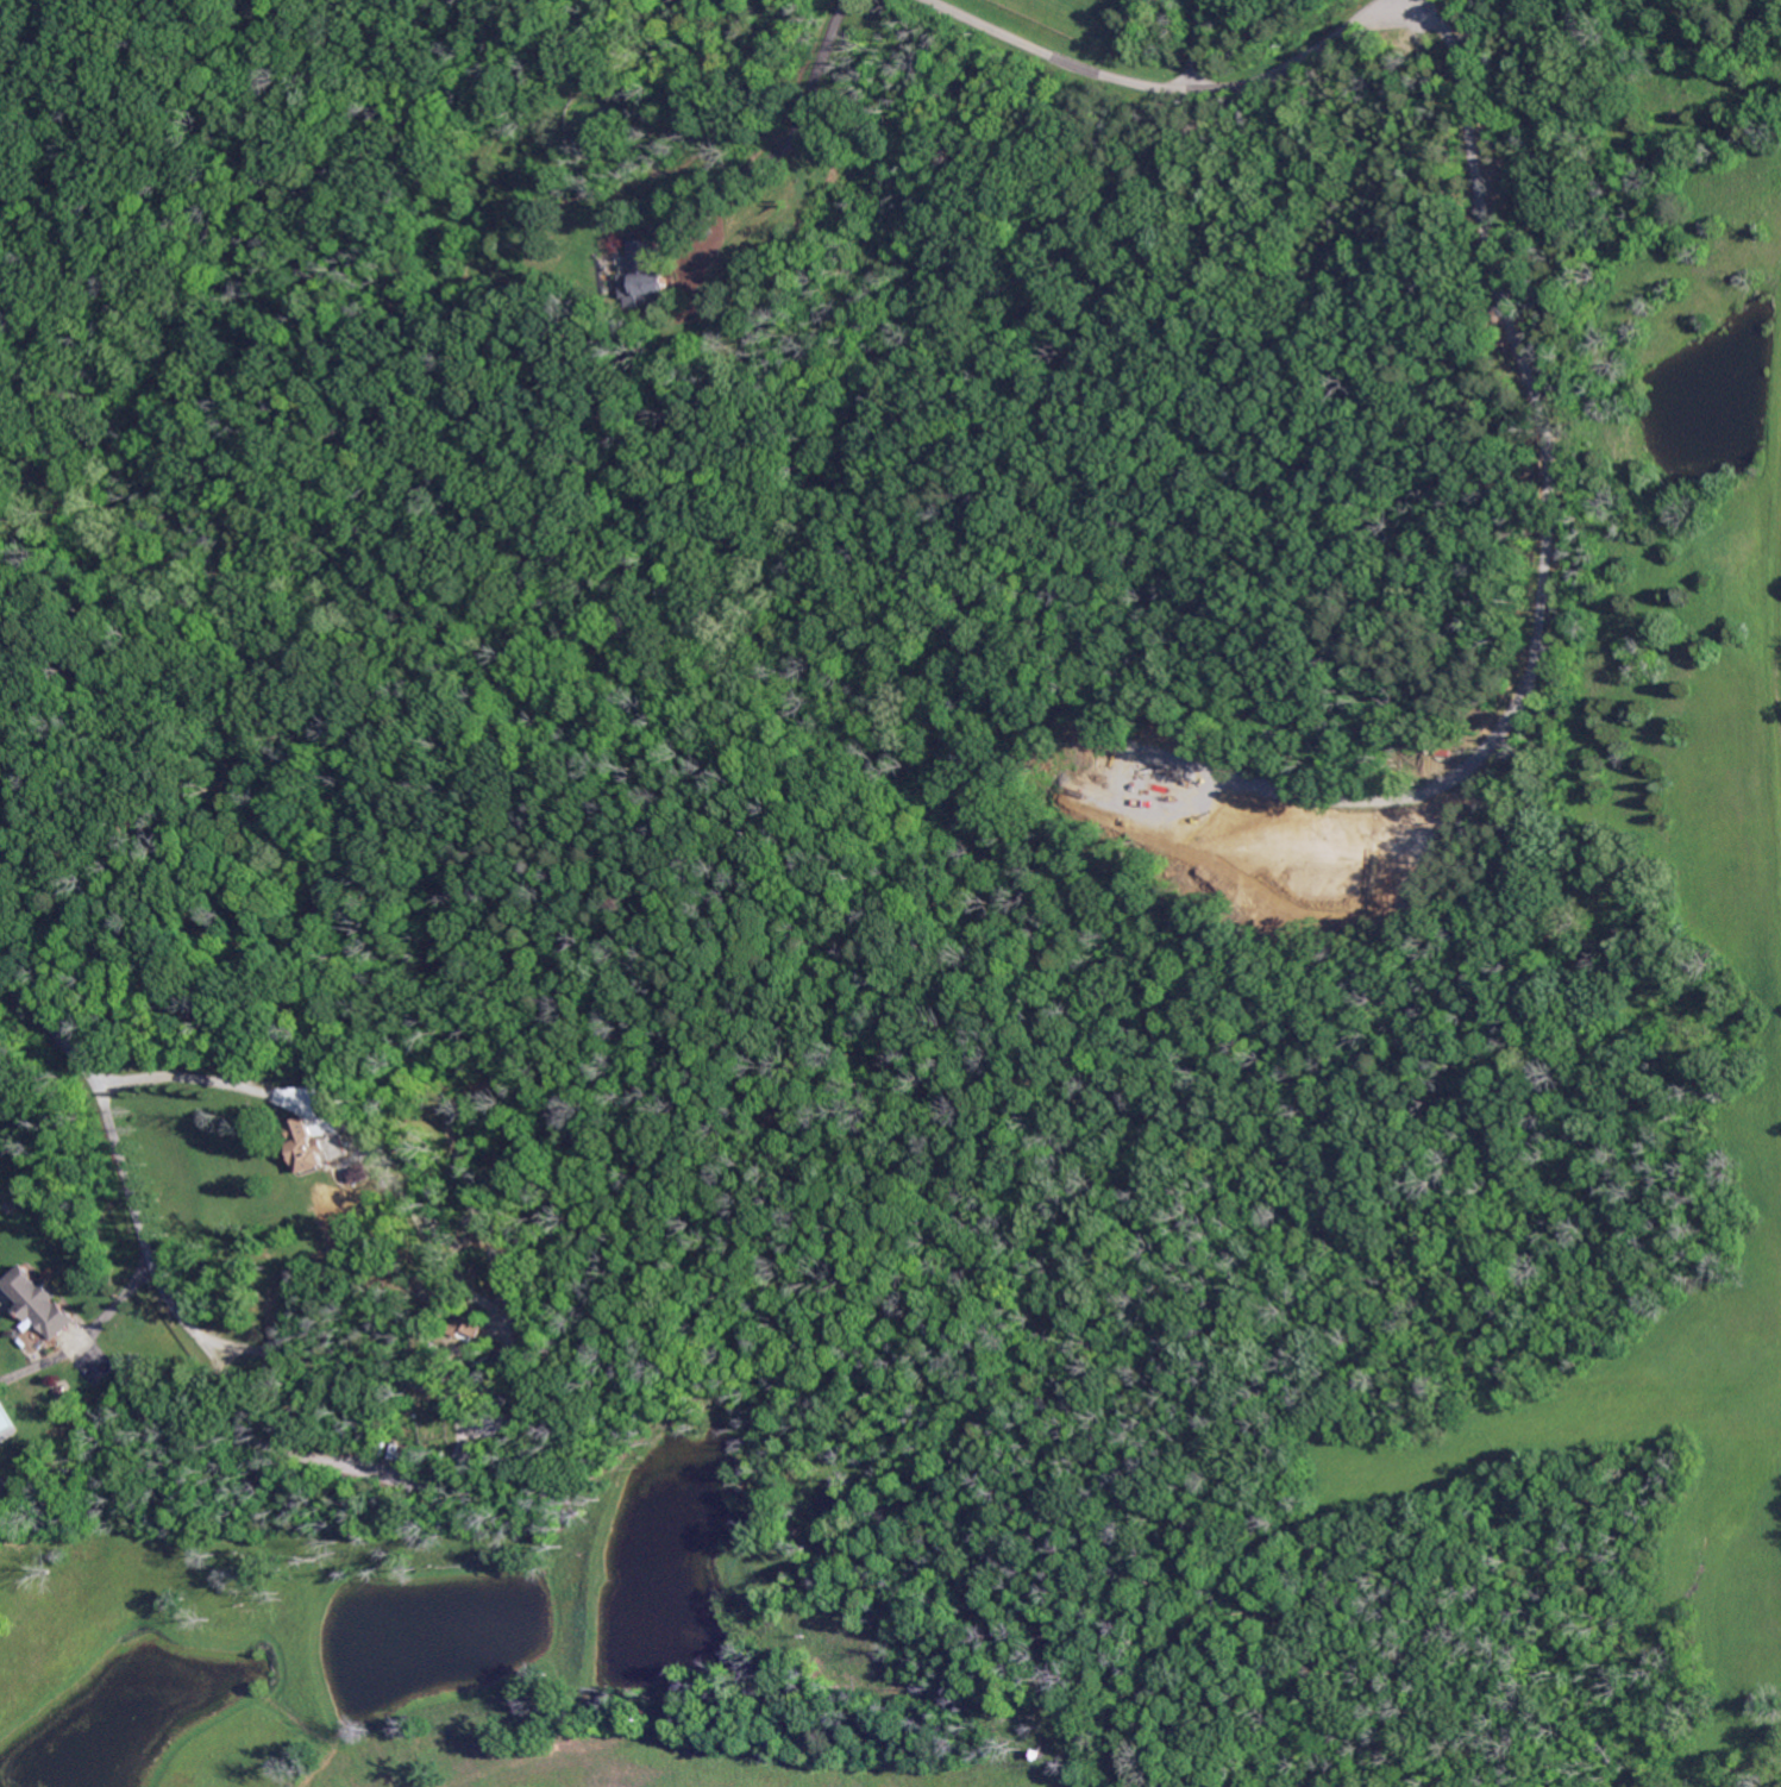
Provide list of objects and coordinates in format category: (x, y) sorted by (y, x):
road: (1415, 1)
building: (159, 43)
road: (1198, 43)
road: (1175, 87)
road: (789, 140)
building: (545, 257)
building: (639, 276)
building: (306, 1146)
road: (387, 1162)
road: (150, 1258)
building: (36, 1303)
building: (463, 1327)
road: (84, 1335)
road: (360, 1371)
building: (59, 1392)
building: (506, 1396)
building: (5, 1421)
building: (377, 1448)
building: (391, 1451)
road: (407, 1485)

